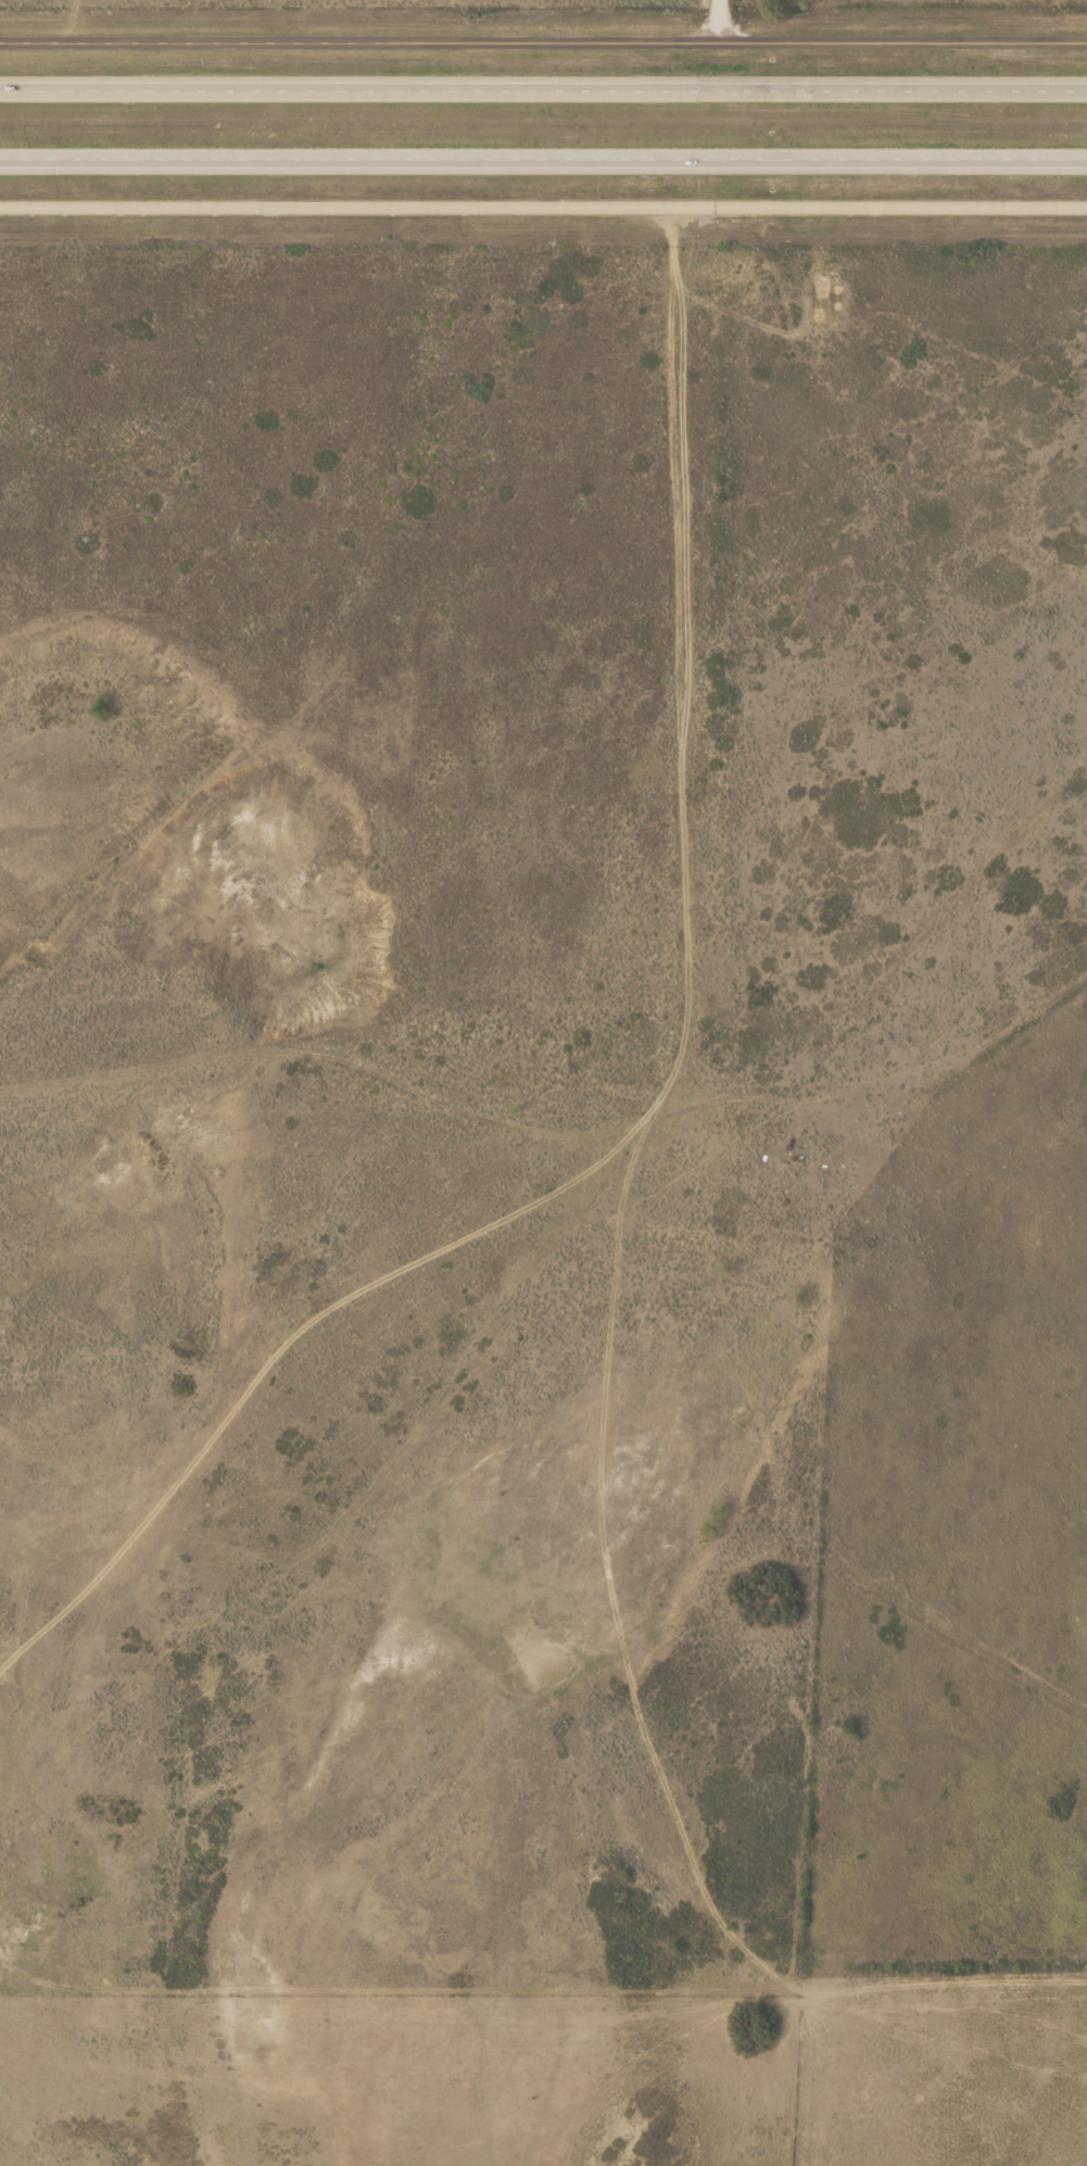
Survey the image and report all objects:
road: (543, 40)
road: (543, 87)
road: (543, 156)
road: (543, 205)

